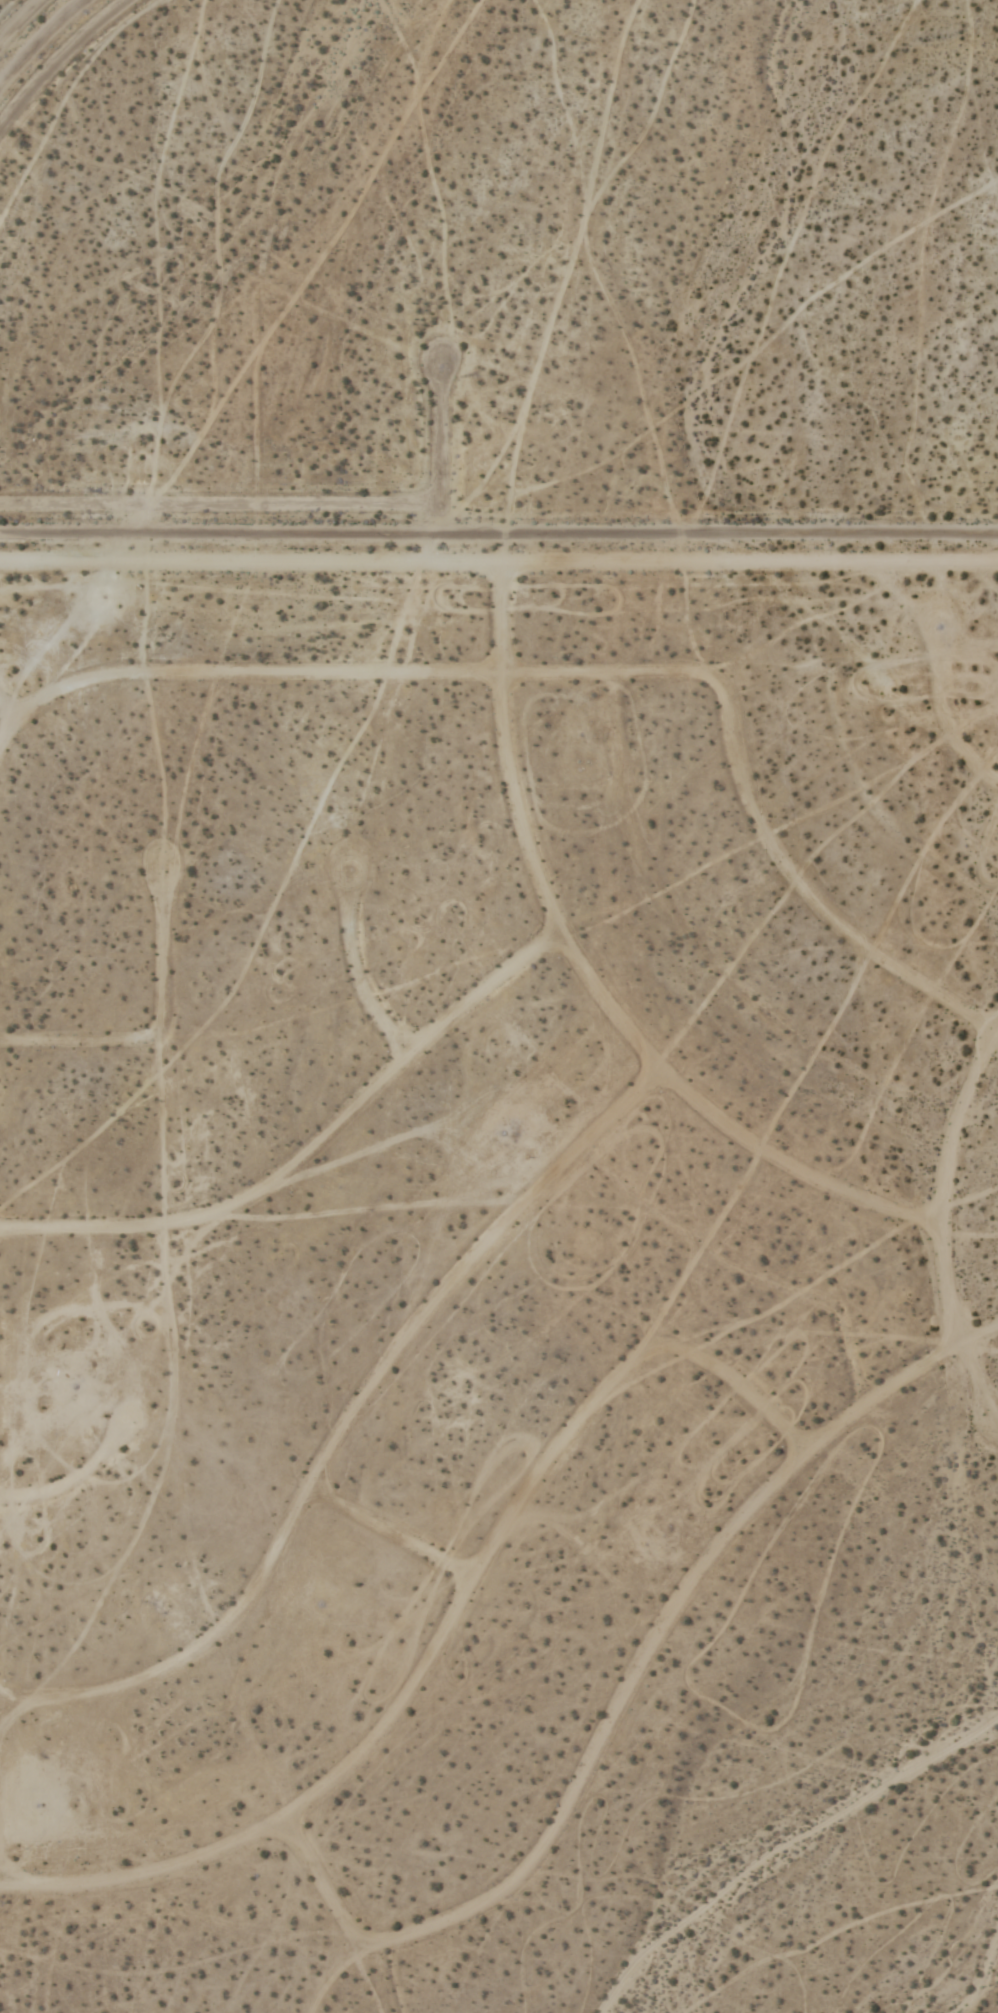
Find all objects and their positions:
road: (443, 463)
road: (498, 536)
road: (498, 563)
road: (252, 680)
road: (943, 724)
road: (8, 735)
road: (748, 808)
road: (580, 972)
road: (356, 974)
crop: (499, 1006)
road: (158, 1036)
road: (307, 1155)
road: (941, 1186)
road: (342, 1431)
road: (74, 1484)
road: (390, 1537)
road: (445, 1636)
road: (627, 1695)

